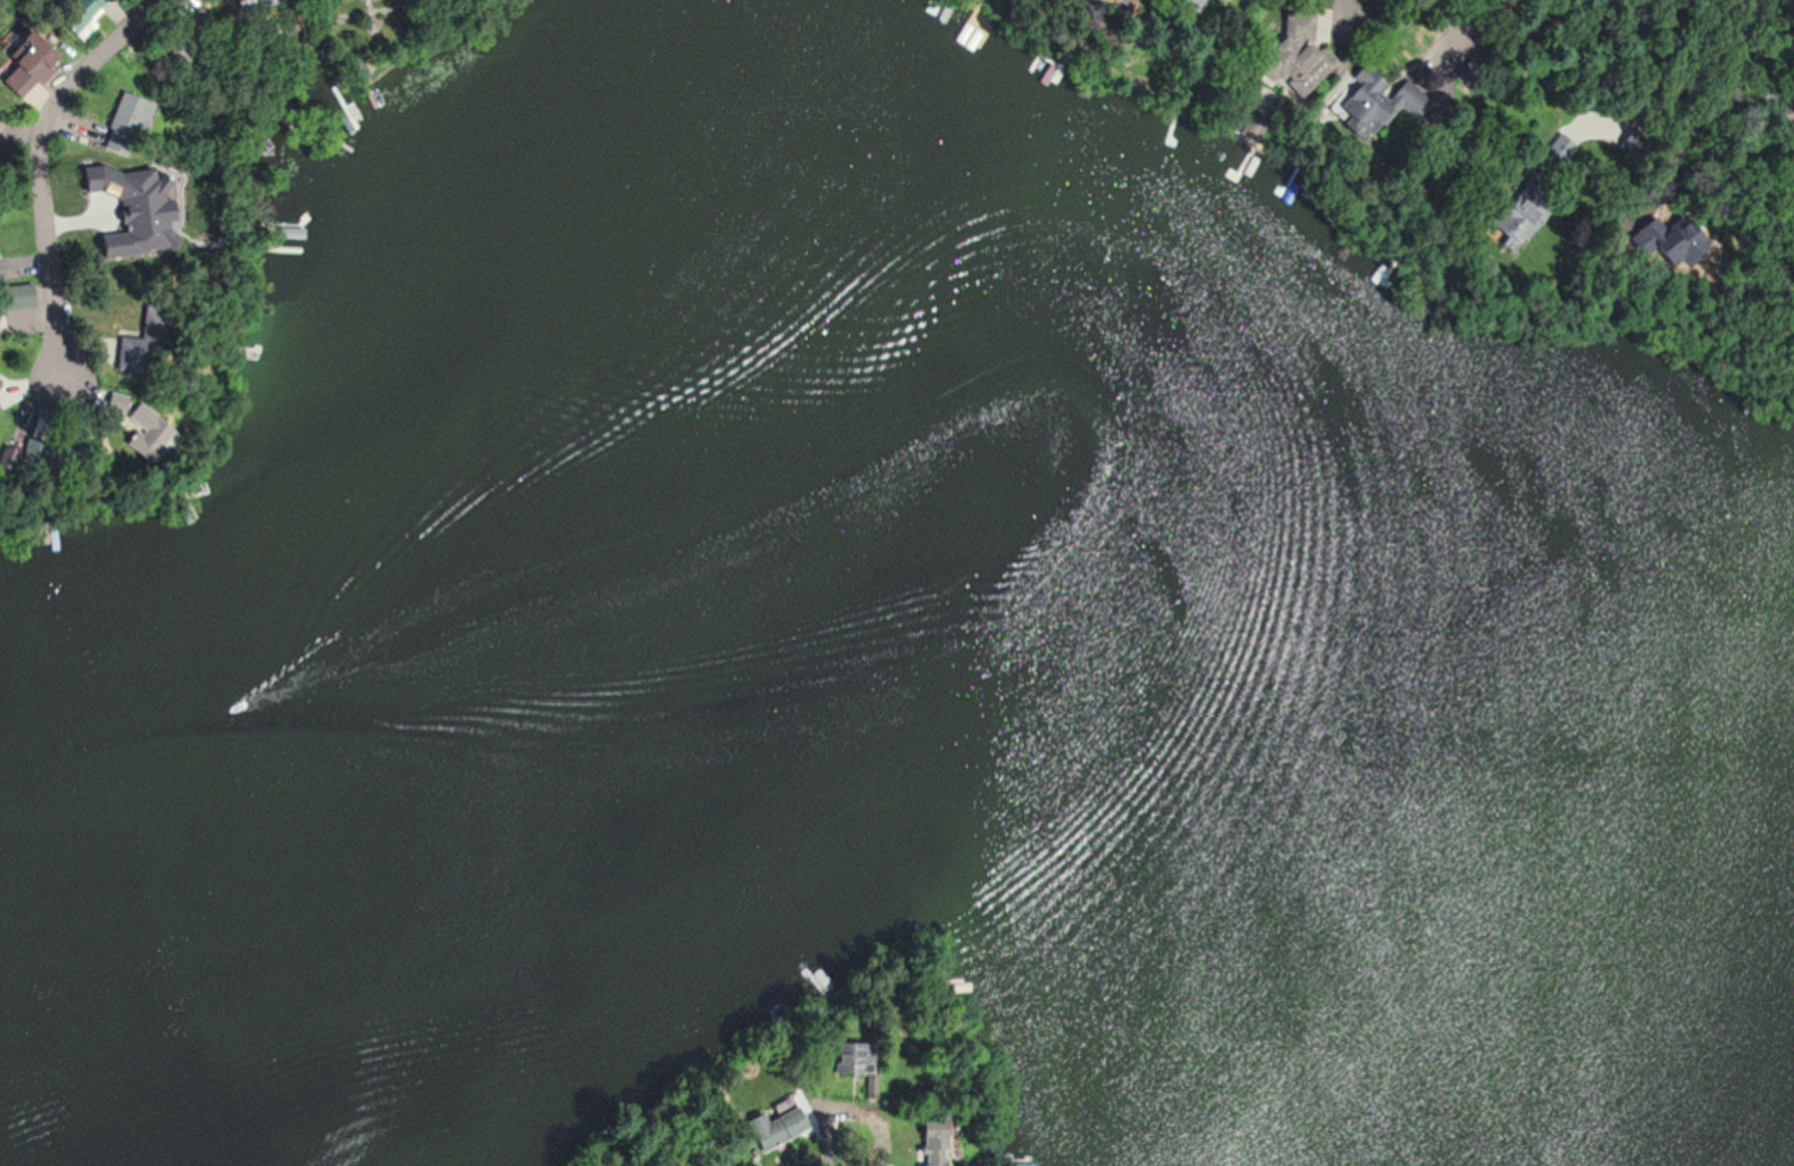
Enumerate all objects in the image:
building: (85, 17)
road: (1464, 20)
road: (1750, 41)
building: (1292, 52)
building: (24, 66)
building: (356, 69)
building: (1361, 100)
road: (1771, 105)
building: (129, 116)
road: (37, 180)
building: (14, 296)
building: (851, 1058)
building: (780, 1122)
road: (853, 1127)
building: (761, 1139)

